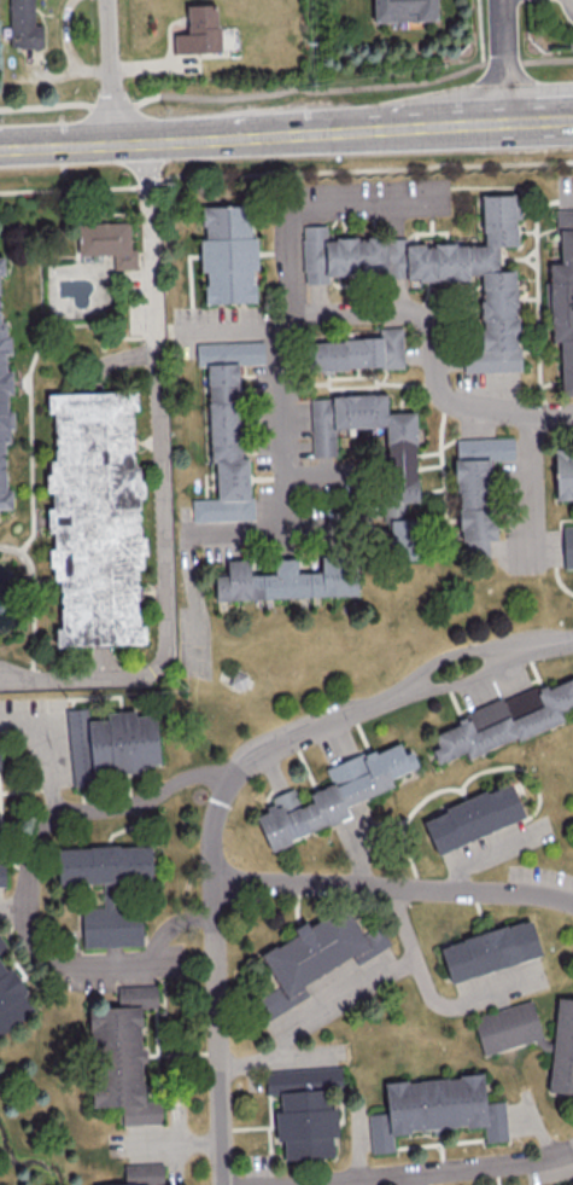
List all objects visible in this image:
road: (572, 2)
building: (403, 10)
building: (23, 24)
building: (198, 30)
road: (479, 31)
road: (504, 60)
road: (113, 69)
road: (286, 87)
road: (540, 120)
road: (311, 133)
road: (57, 141)
road: (286, 174)
road: (567, 191)
road: (312, 214)
building: (110, 242)
building: (227, 254)
building: (339, 255)
road: (42, 266)
building: (480, 281)
building: (562, 298)
road: (235, 323)
building: (357, 352)
road: (434, 356)
road: (31, 382)
building: (5, 406)
building: (226, 429)
building: (399, 441)
building: (563, 472)
road: (160, 484)
building: (478, 490)
road: (531, 493)
building: (98, 517)
road: (279, 531)
building: (403, 538)
road: (446, 541)
building: (567, 546)
building: (286, 580)
road: (36, 599)
road: (555, 643)
road: (451, 652)
road: (462, 681)
building: (505, 719)
road: (308, 732)
building: (110, 742)
road: (46, 747)
building: (333, 794)
building: (472, 817)
road: (484, 855)
building: (104, 864)
building: (1, 873)
road: (393, 887)
road: (27, 894)
road: (572, 900)
road: (13, 910)
building: (111, 926)
building: (1, 945)
building: (489, 949)
building: (320, 951)
road: (216, 976)
road: (372, 982)
building: (11, 998)
road: (463, 1001)
building: (505, 1027)
building: (562, 1046)
building: (121, 1055)
road: (273, 1059)
building: (435, 1109)
building: (304, 1110)
road: (444, 1173)
building: (141, 1174)
road: (408, 1180)

